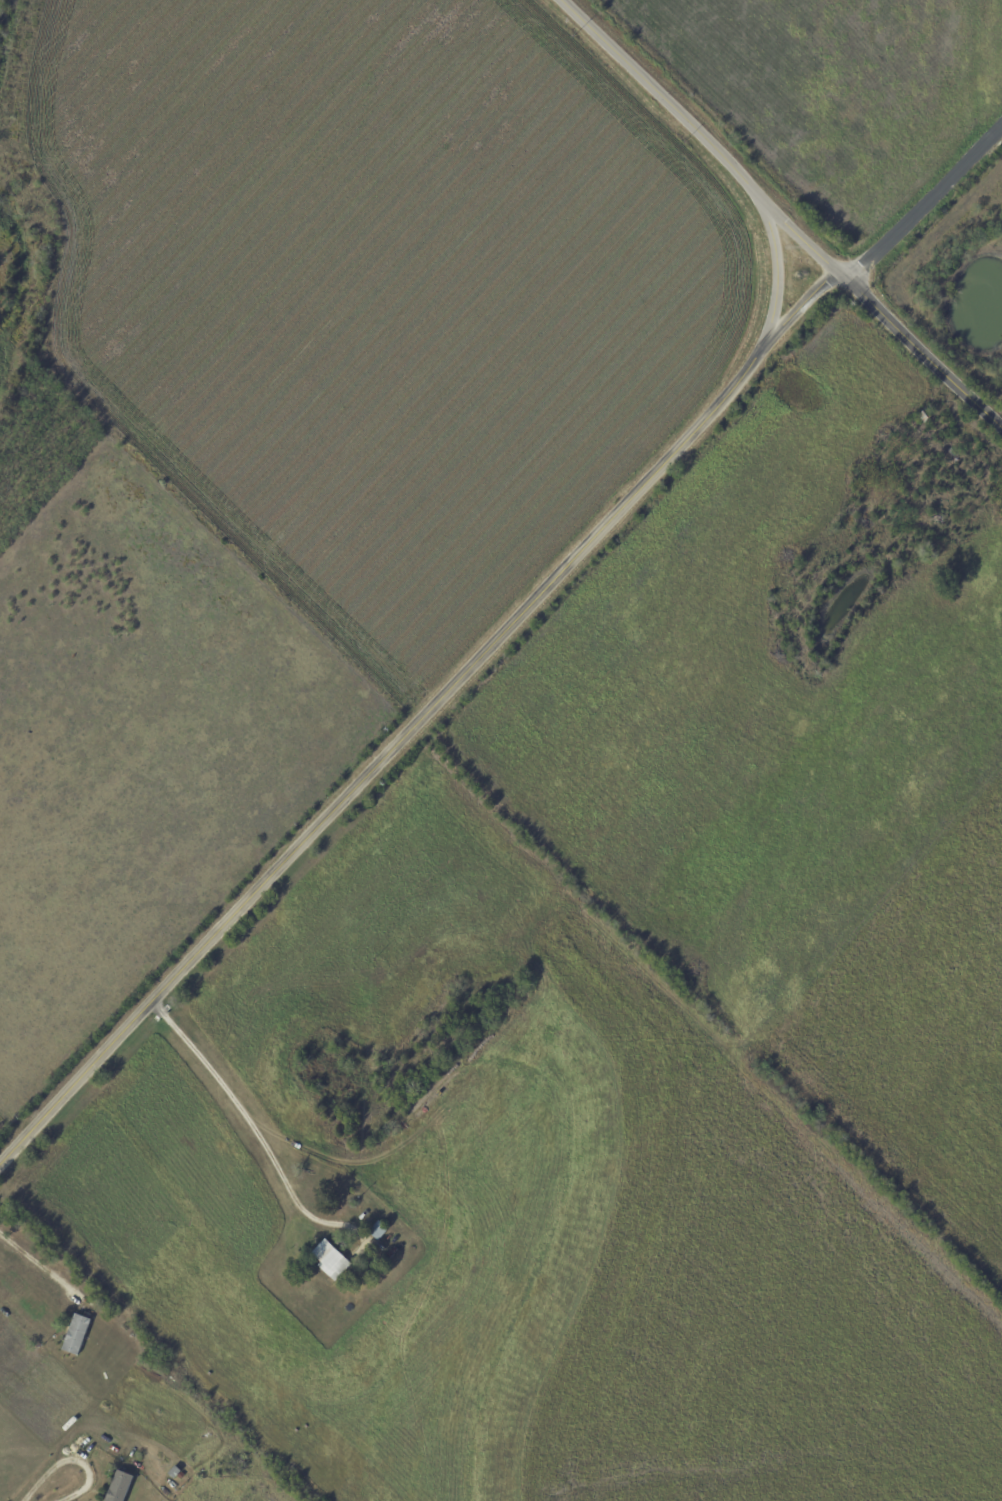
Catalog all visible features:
road: (699, 139)
road: (925, 204)
road: (776, 274)
road: (923, 350)
building: (927, 416)
building: (904, 455)
building: (974, 483)
building: (979, 519)
road: (418, 714)
road: (243, 1113)
building: (379, 1231)
building: (391, 1255)
building: (332, 1261)
road: (39, 1266)
building: (77, 1334)
road: (70, 1461)
building: (177, 1474)
building: (121, 1487)

